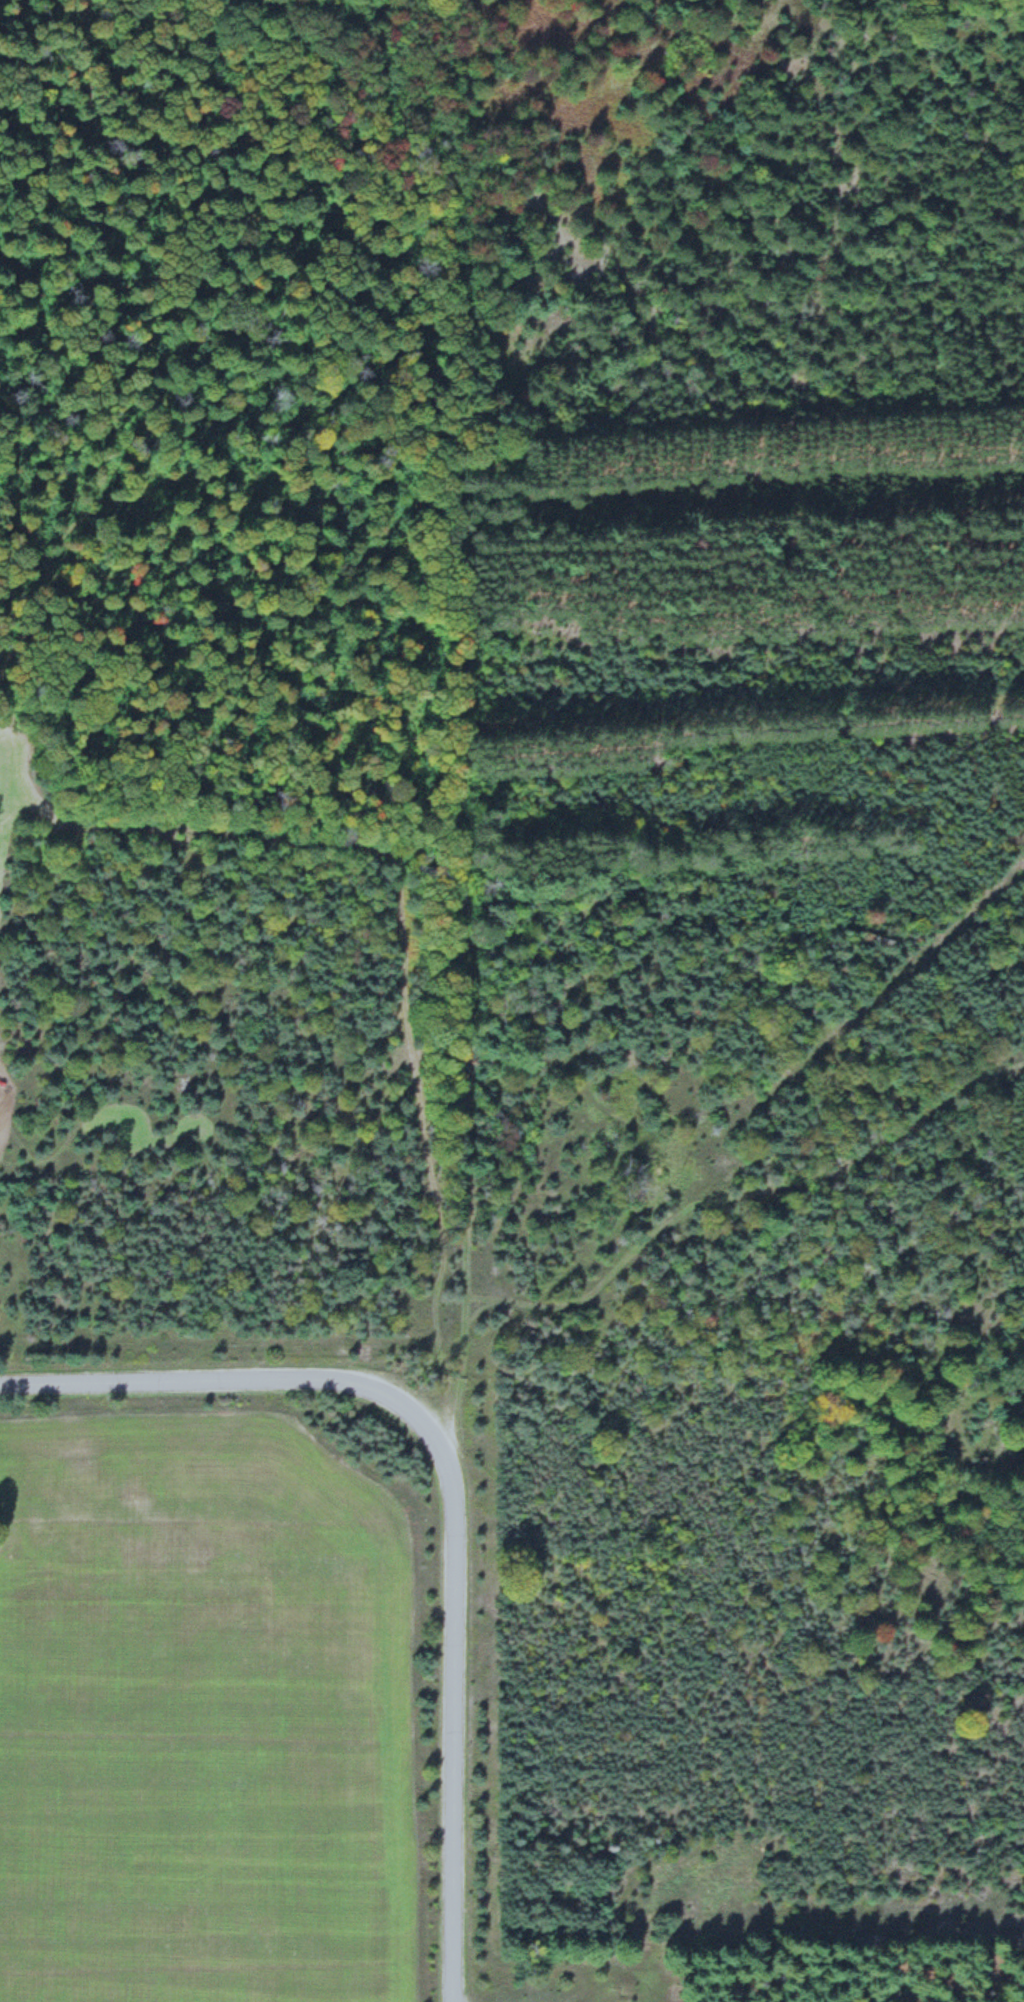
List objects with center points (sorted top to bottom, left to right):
road: (744, 729)
road: (457, 1000)
road: (237, 1379)
road: (450, 1728)

